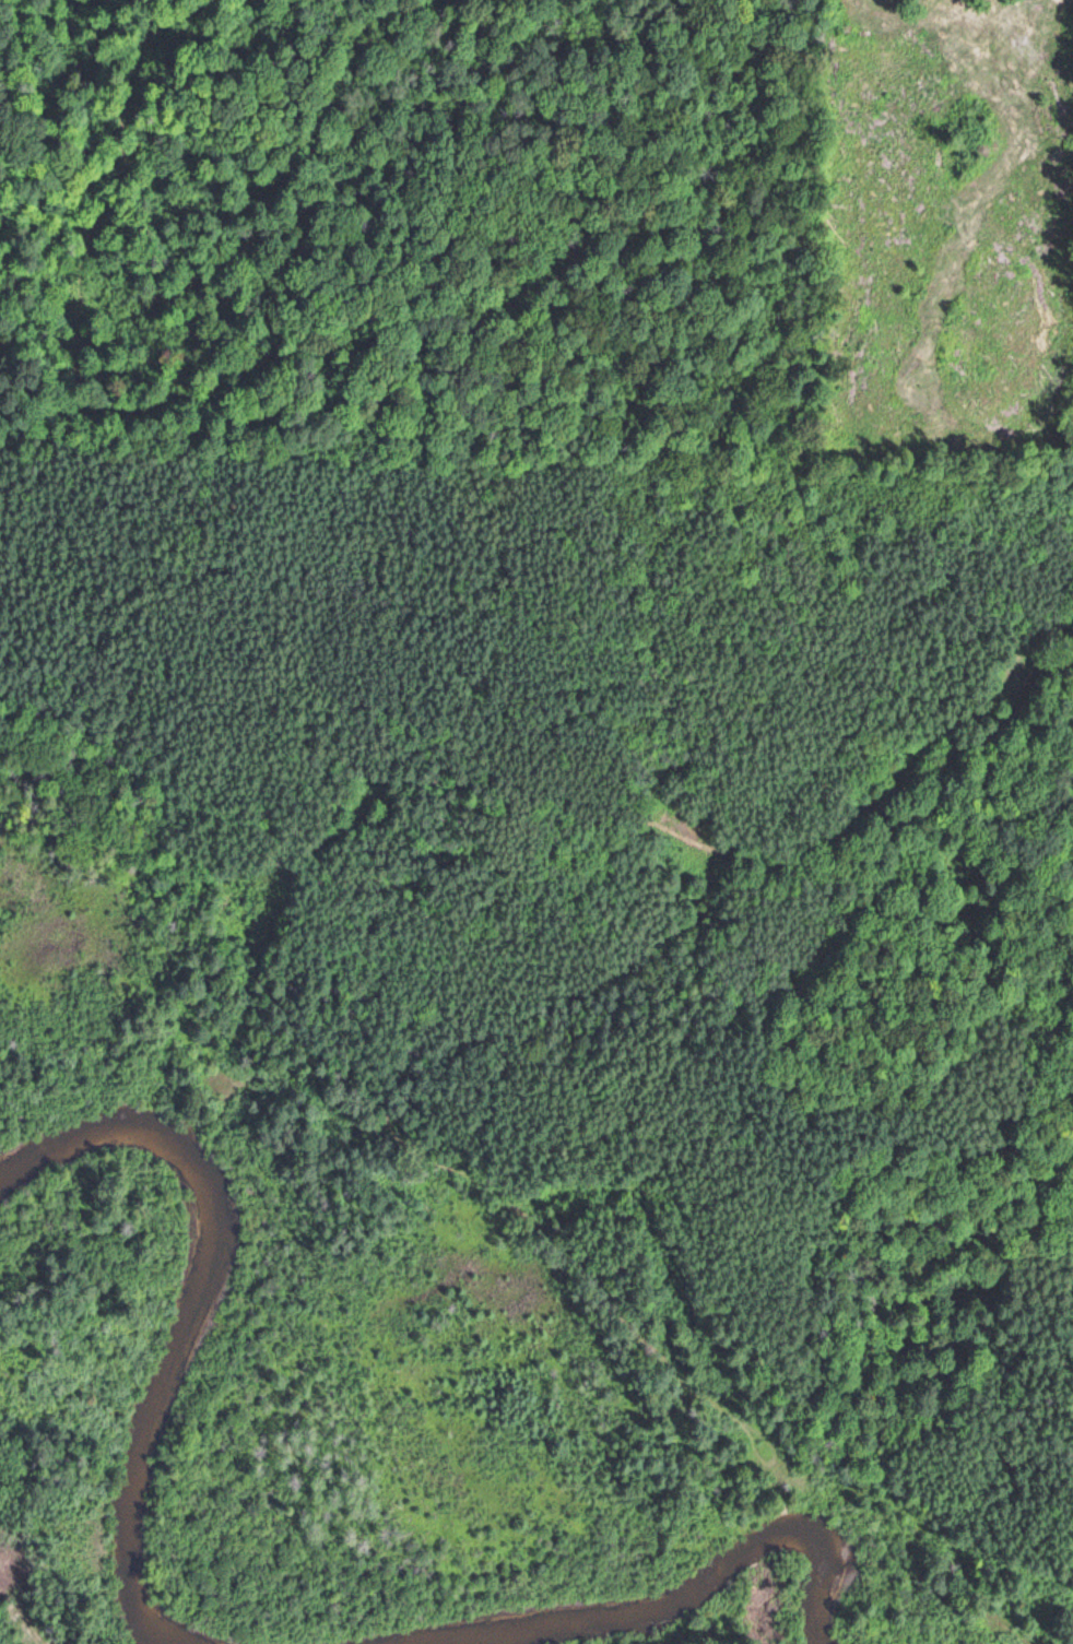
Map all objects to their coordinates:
road: (574, 994)
river: (199, 1309)
river: (712, 1585)

